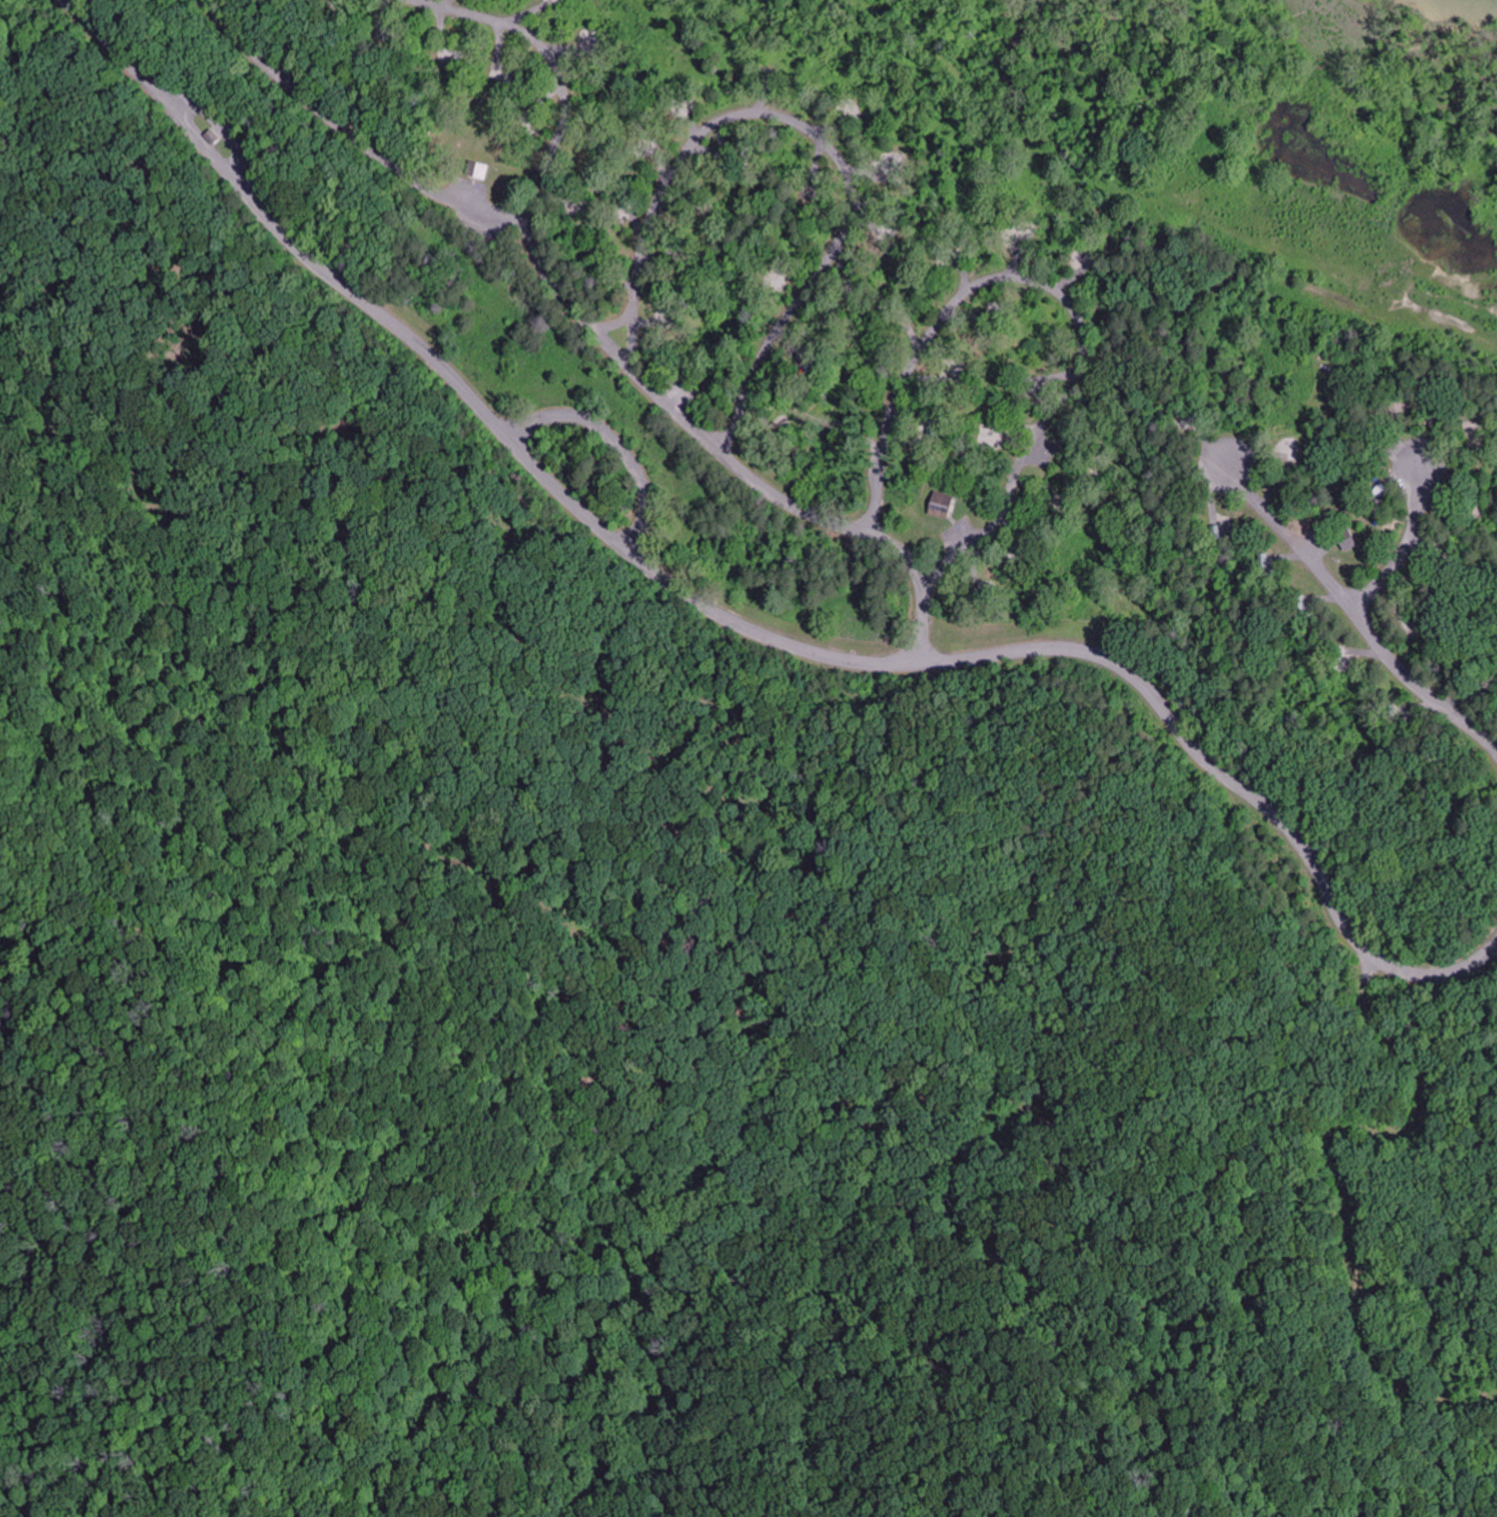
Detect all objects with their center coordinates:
road: (809, 132)
building: (475, 170)
road: (486, 210)
road: (1053, 290)
building: (803, 368)
road: (616, 441)
building: (1286, 453)
road: (726, 458)
building: (939, 504)
road: (1409, 537)
road: (1347, 604)
road: (736, 621)

